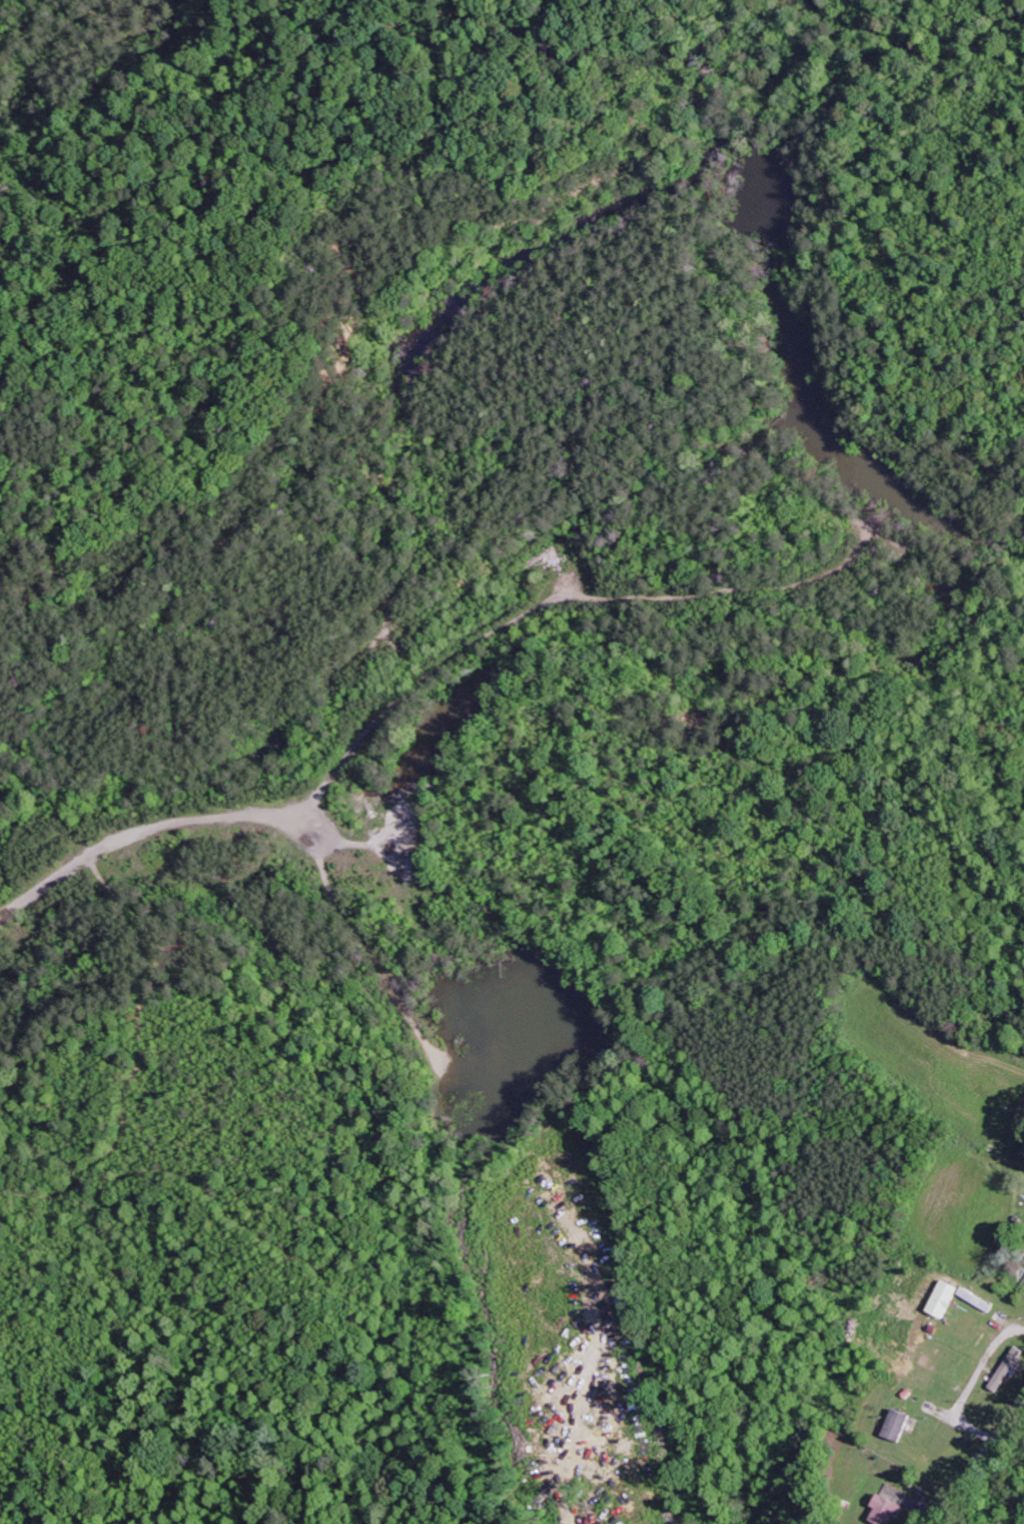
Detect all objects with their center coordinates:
building: (1009, 1369)
building: (900, 1425)
road: (982, 1464)
building: (890, 1505)

